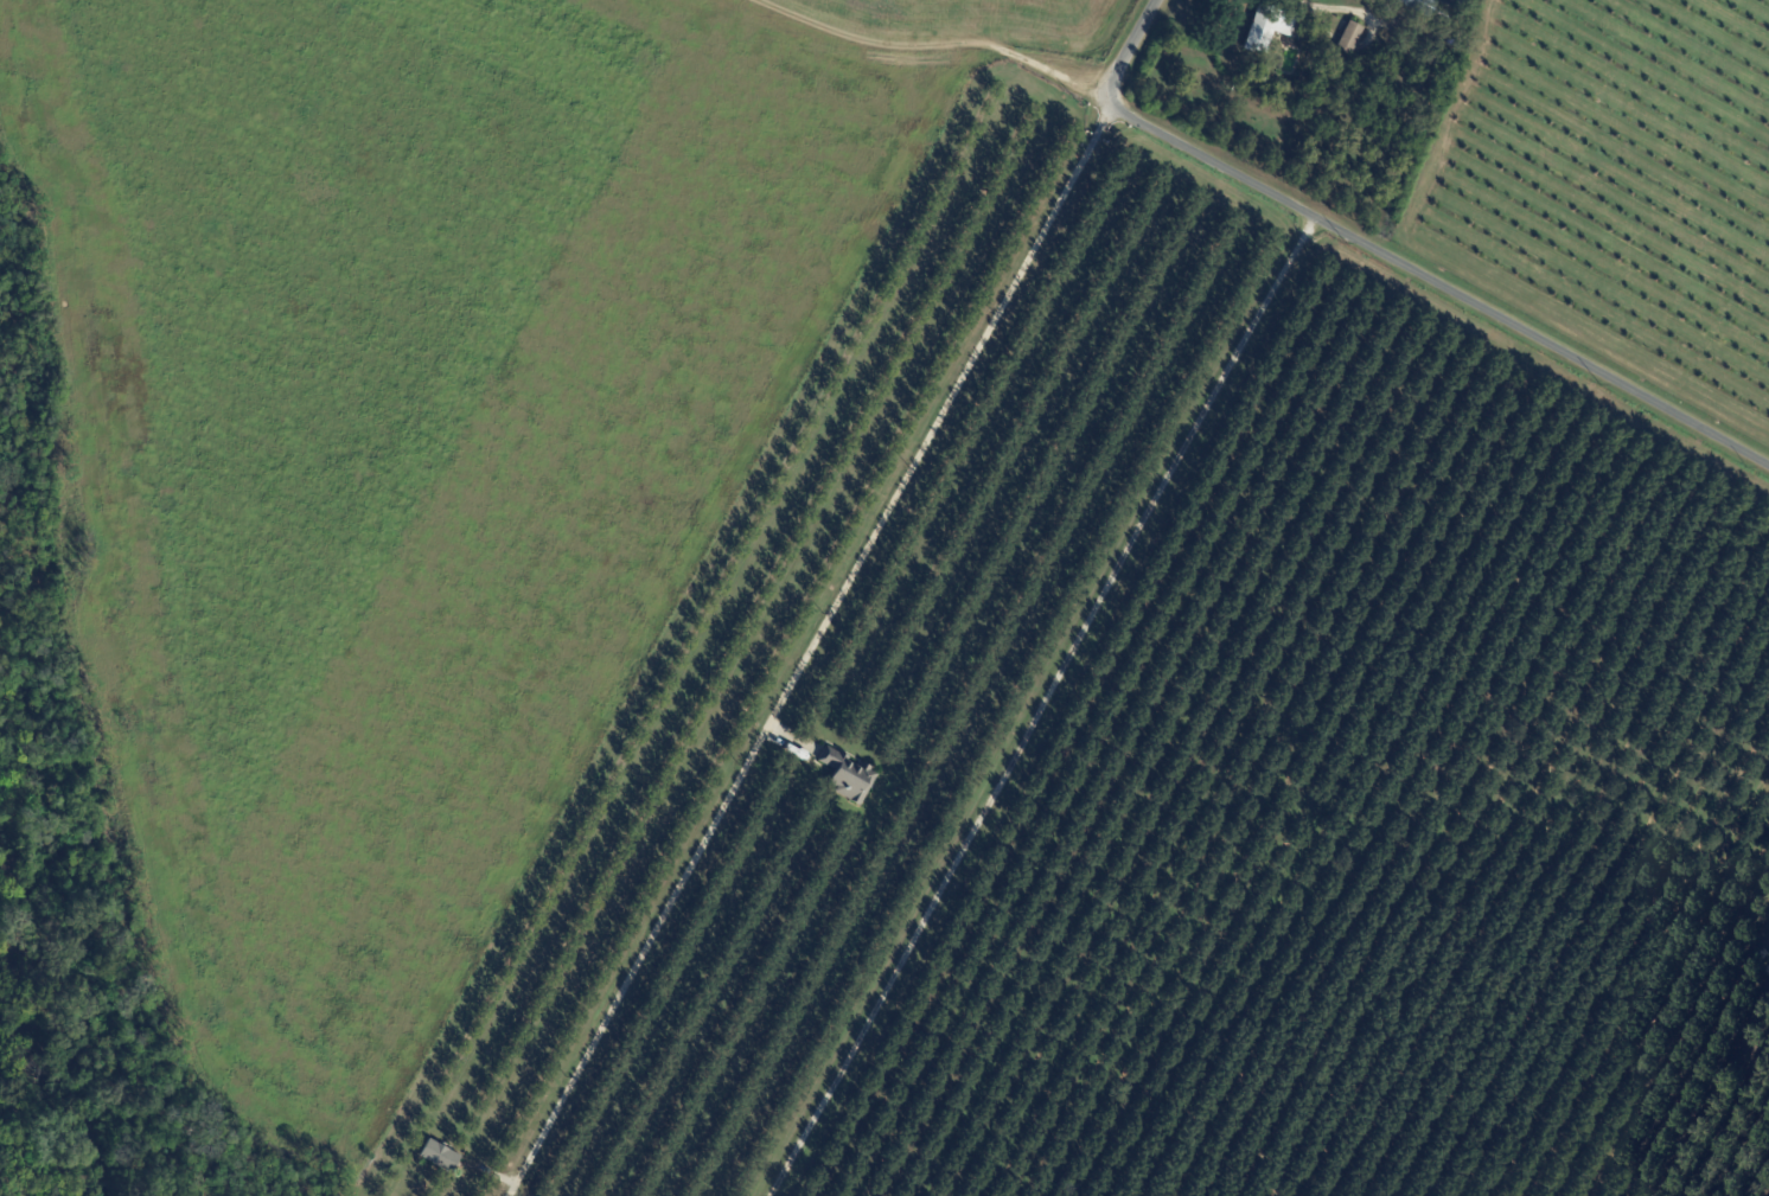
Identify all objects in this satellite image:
building: (1452, 5)
building: (1418, 6)
crop: (977, 21)
building: (1269, 31)
building: (1348, 40)
building: (1252, 78)
crop: (1611, 188)
road: (1388, 258)
road: (809, 650)
road: (1041, 705)
building: (847, 776)
building: (439, 1157)

